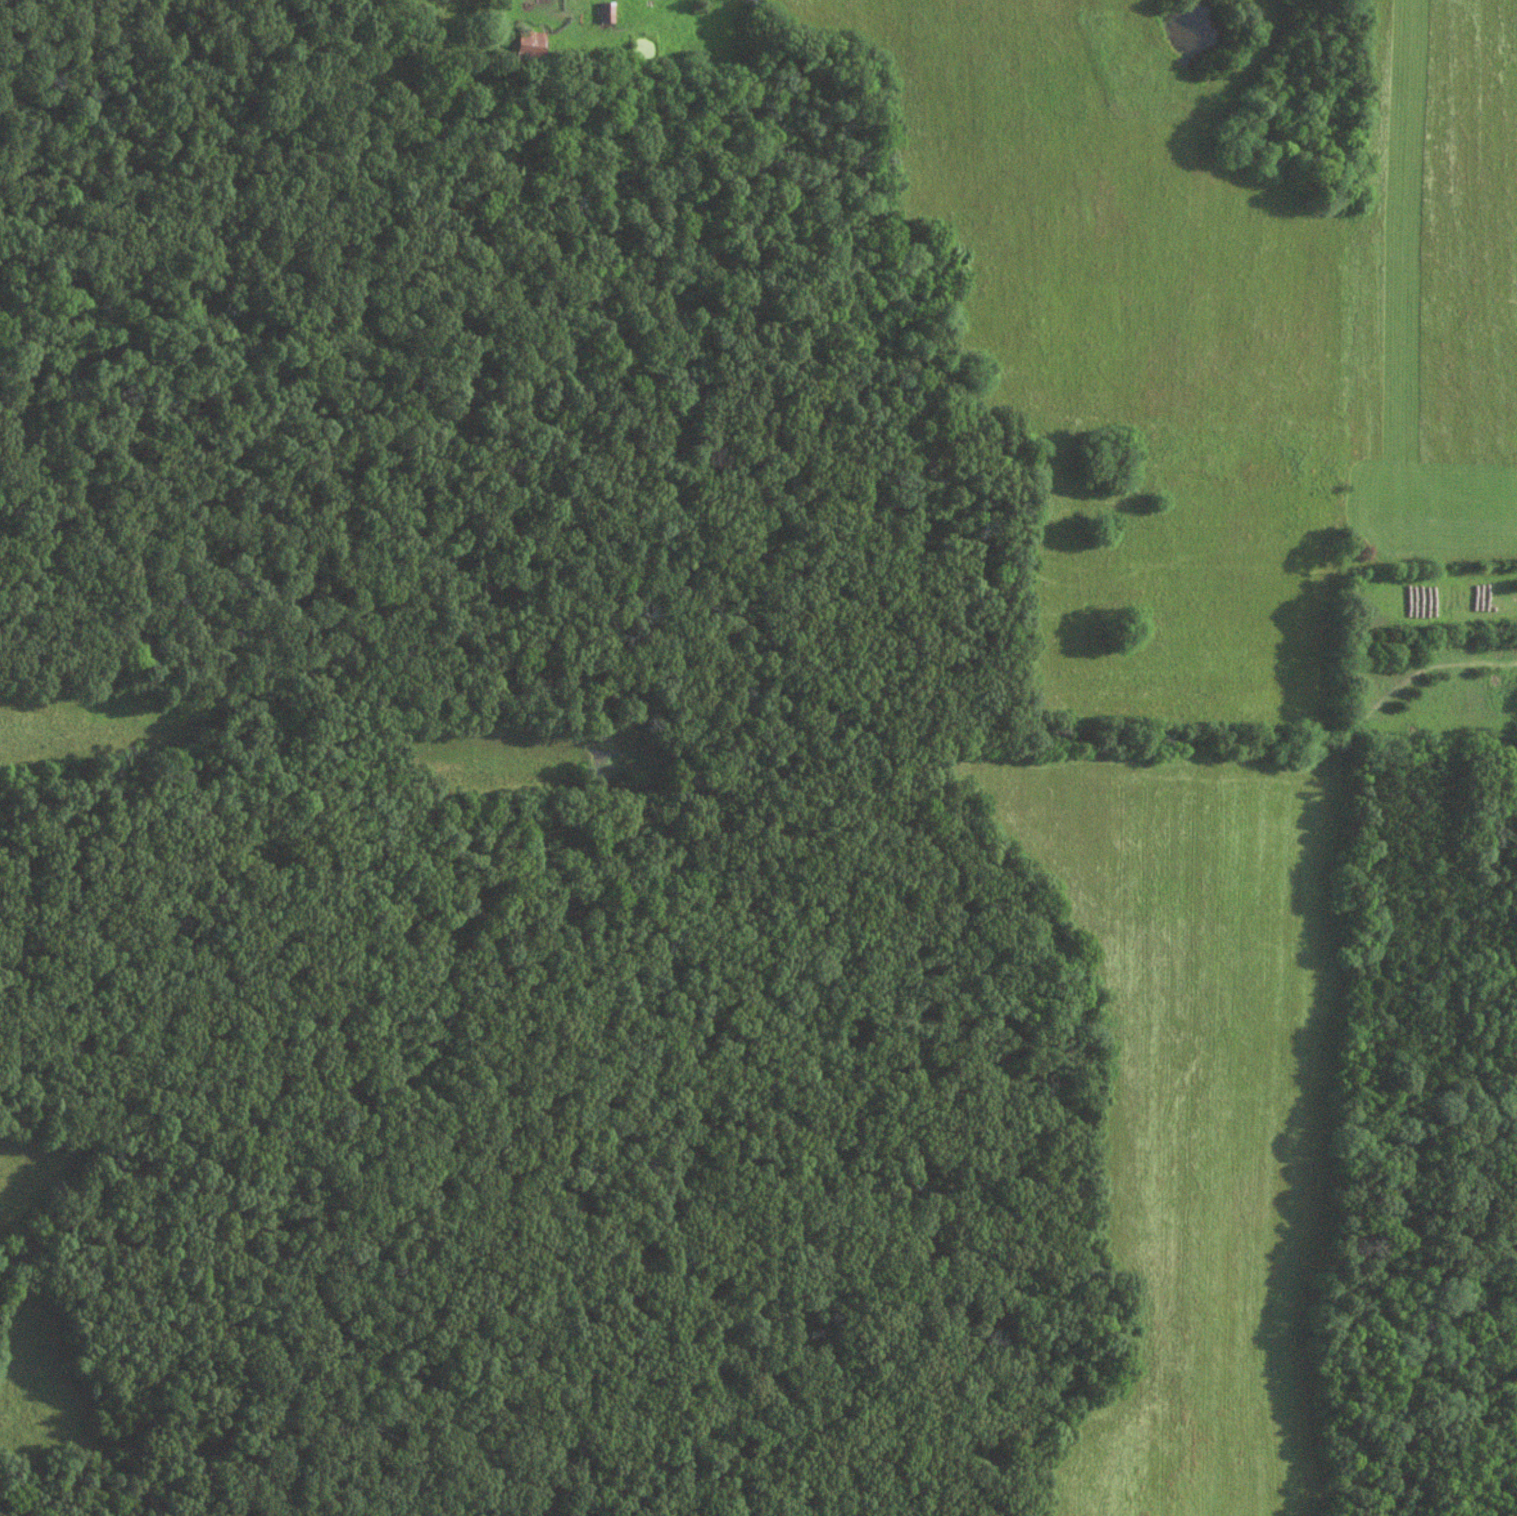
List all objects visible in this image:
building: (605, 13)
building: (529, 47)

